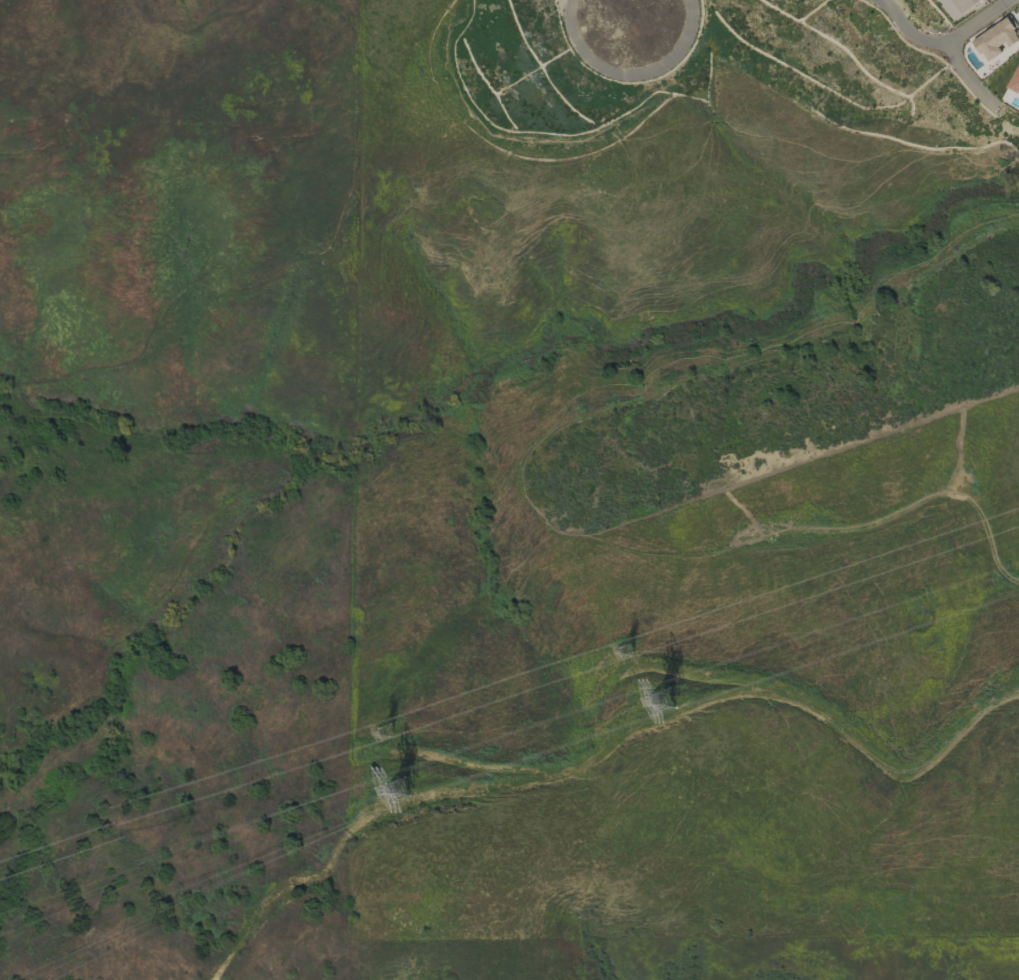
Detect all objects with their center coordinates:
road: (184, 24)
building: (1014, 81)
road: (12, 395)
power tower: (644, 643)
power tower: (683, 701)
power tower: (399, 732)
road: (614, 752)
power tower: (422, 793)

